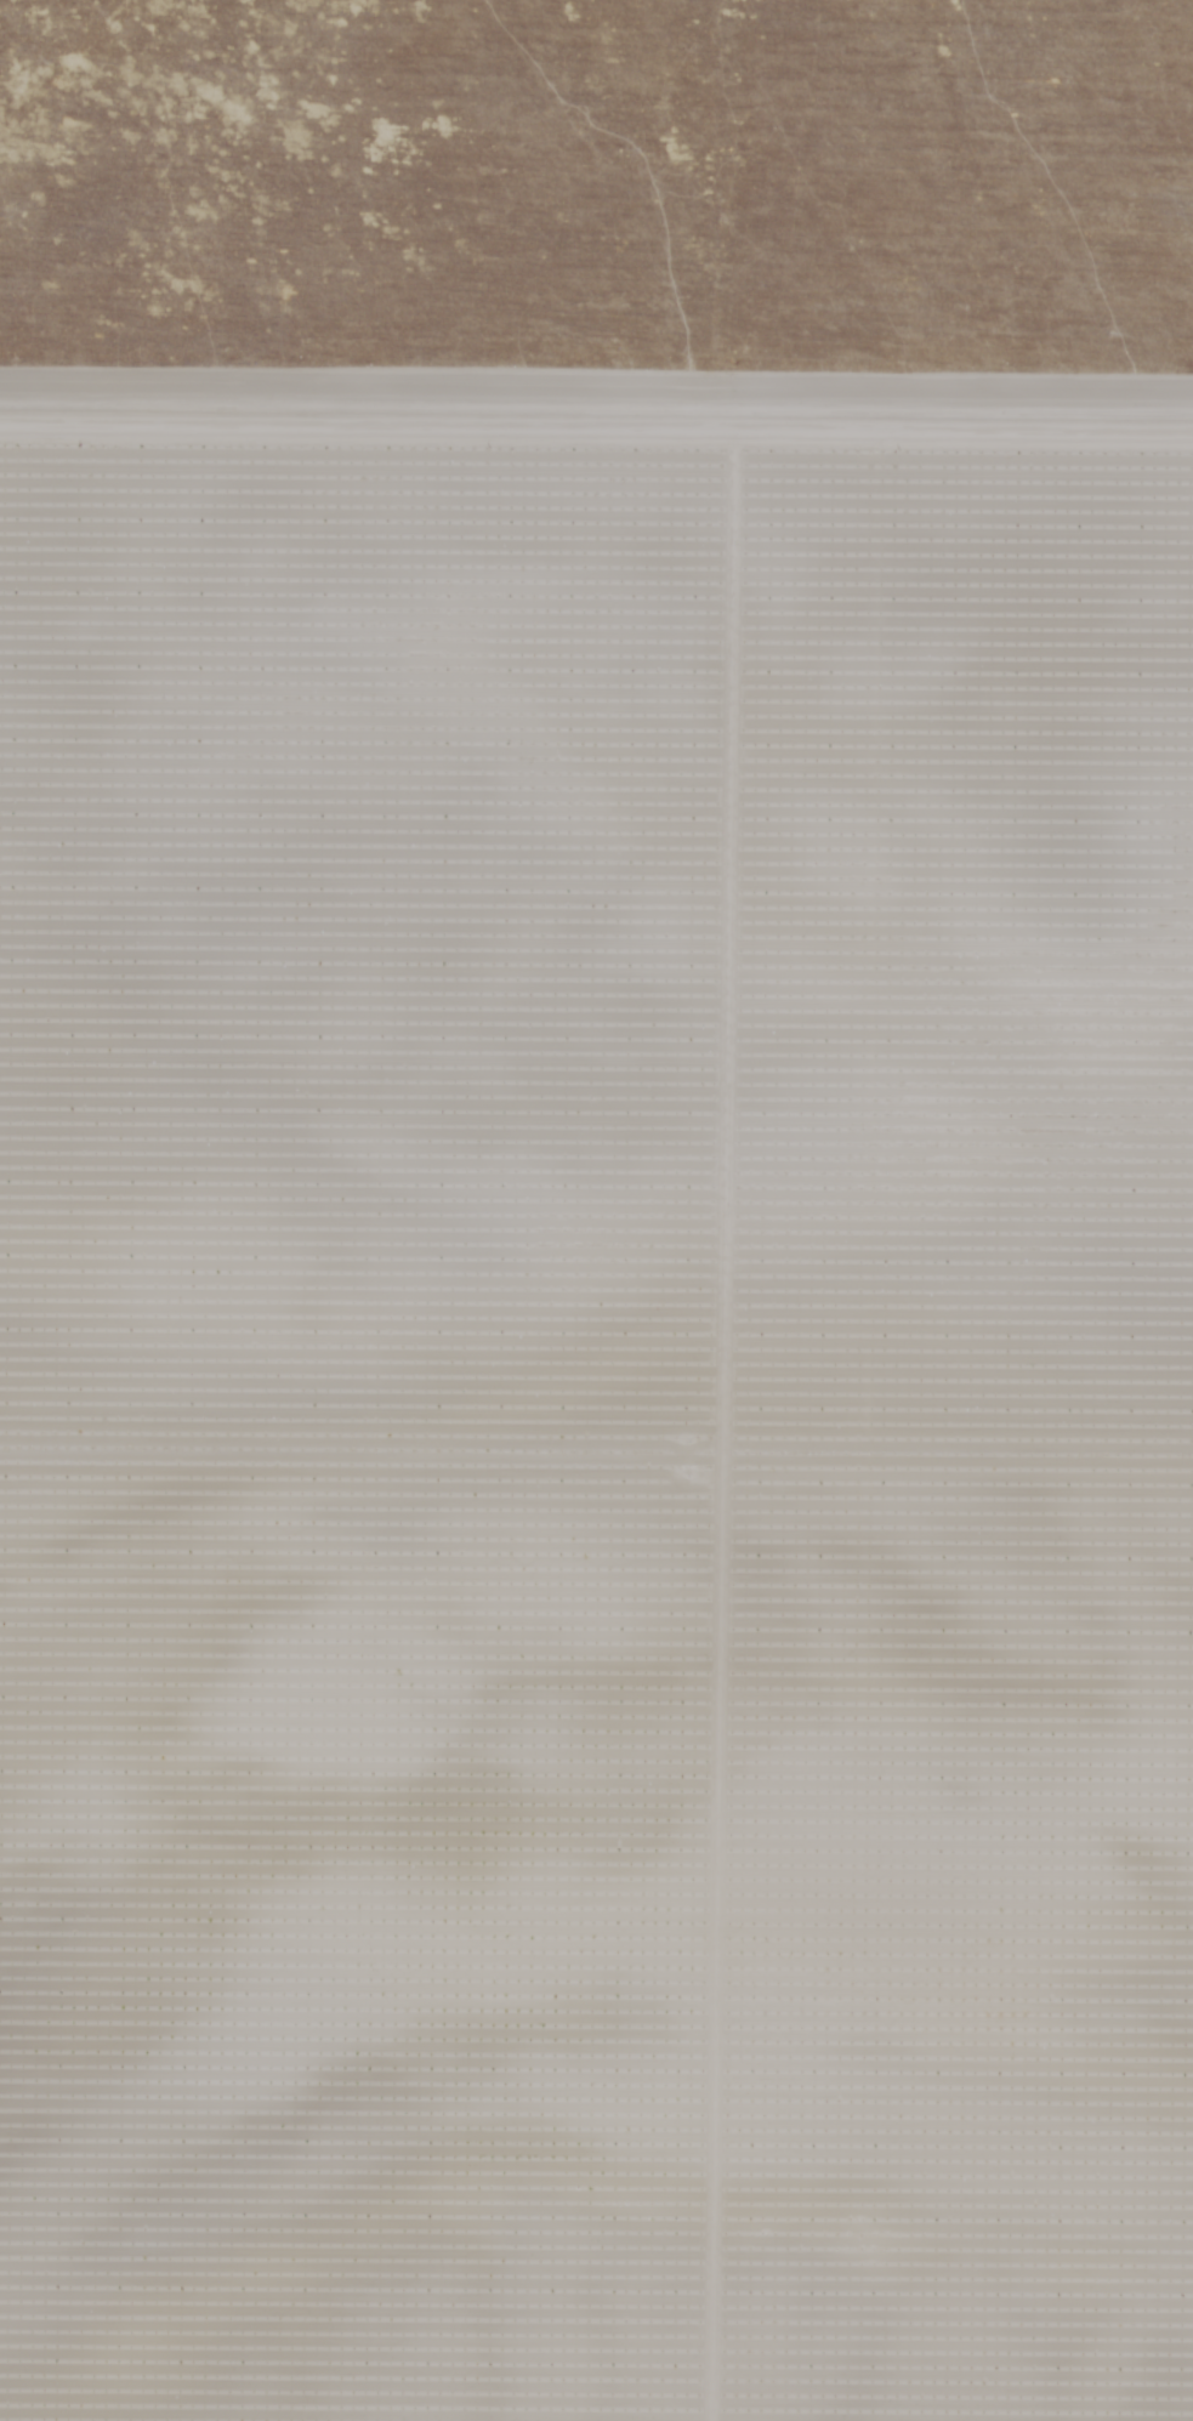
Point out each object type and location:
crop: (642, 15)
crop: (587, 148)
road: (596, 437)
crop: (596, 1322)
road: (460, 2388)
road: (407, 2403)

